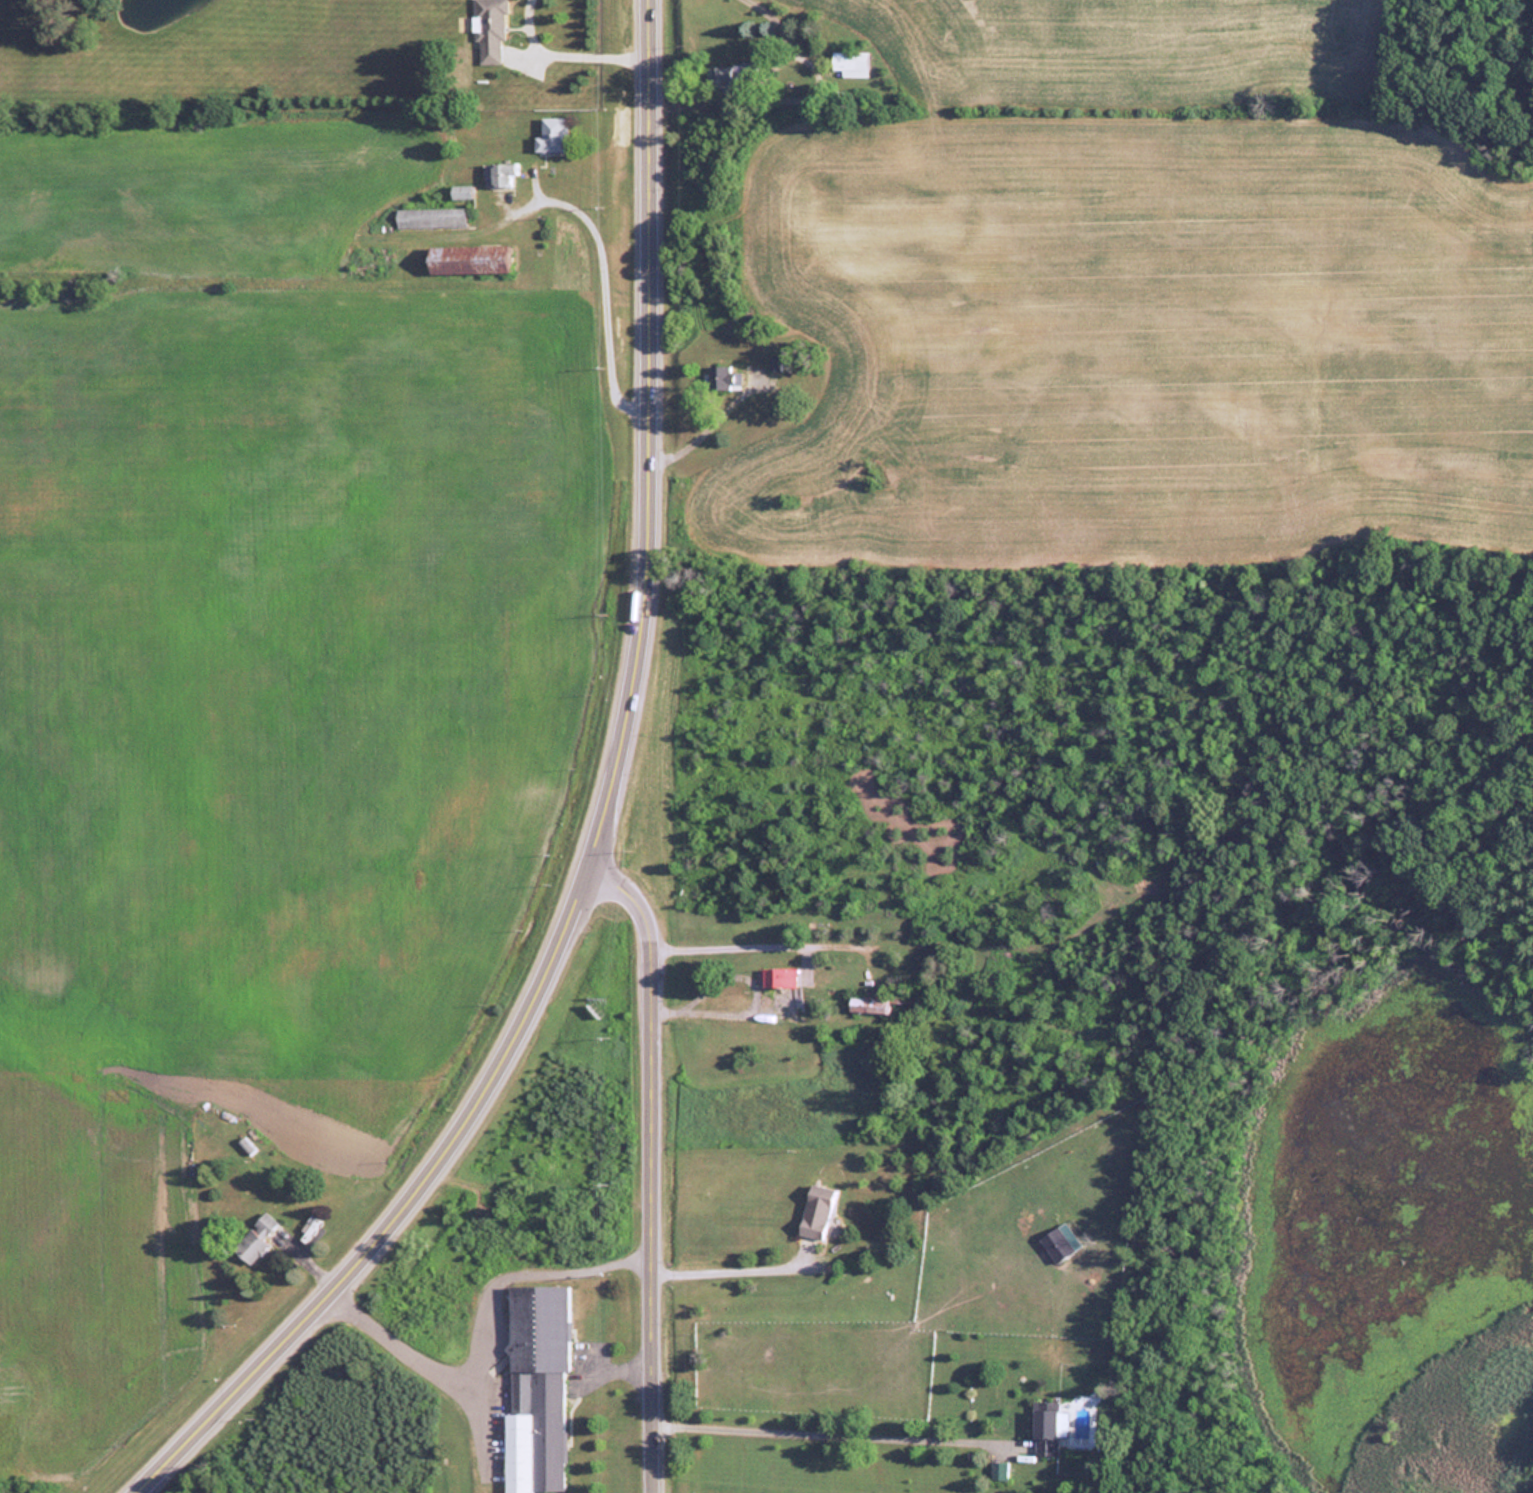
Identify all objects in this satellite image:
building: (489, 31)
building: (849, 63)
building: (719, 75)
building: (552, 135)
building: (499, 172)
building: (461, 191)
building: (430, 217)
building: (468, 258)
building: (775, 362)
building: (719, 376)
road: (603, 823)
building: (779, 976)
building: (867, 1004)
building: (246, 1144)
road: (652, 1165)
building: (816, 1211)
building: (256, 1238)
building: (1060, 1241)
building: (536, 1390)
building: (1044, 1428)
building: (998, 1470)

